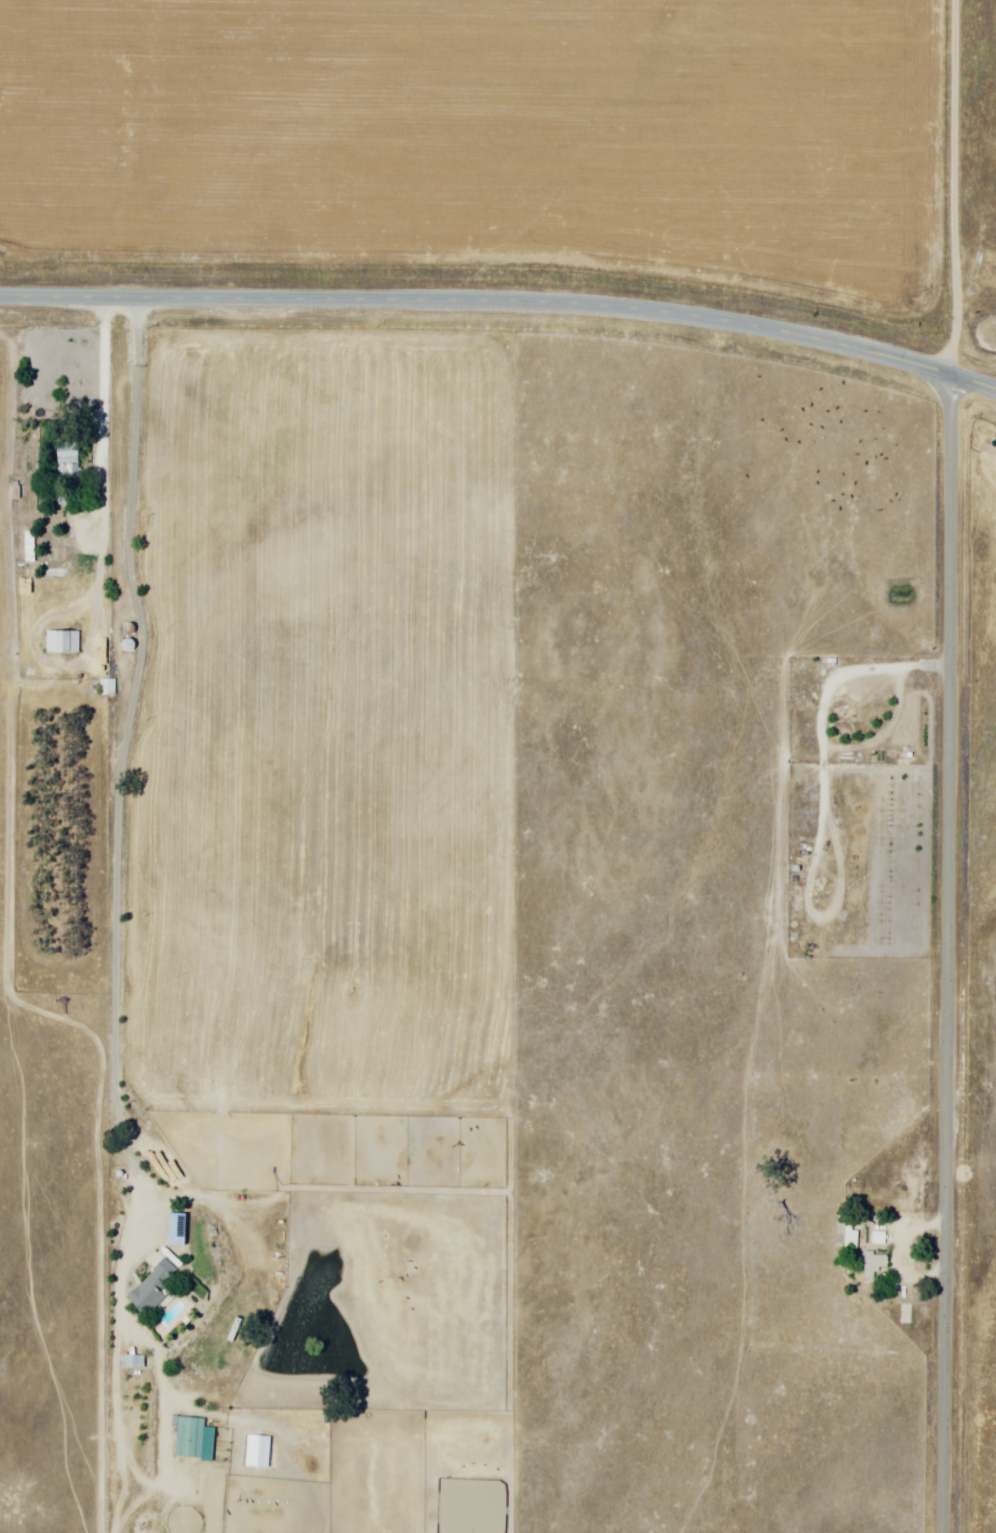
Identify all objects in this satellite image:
road: (503, 305)
building: (67, 463)
building: (30, 547)
building: (62, 642)
building: (107, 688)
road: (950, 955)
building: (175, 1230)
building: (849, 1236)
building: (873, 1265)
building: (151, 1289)
building: (189, 1438)

